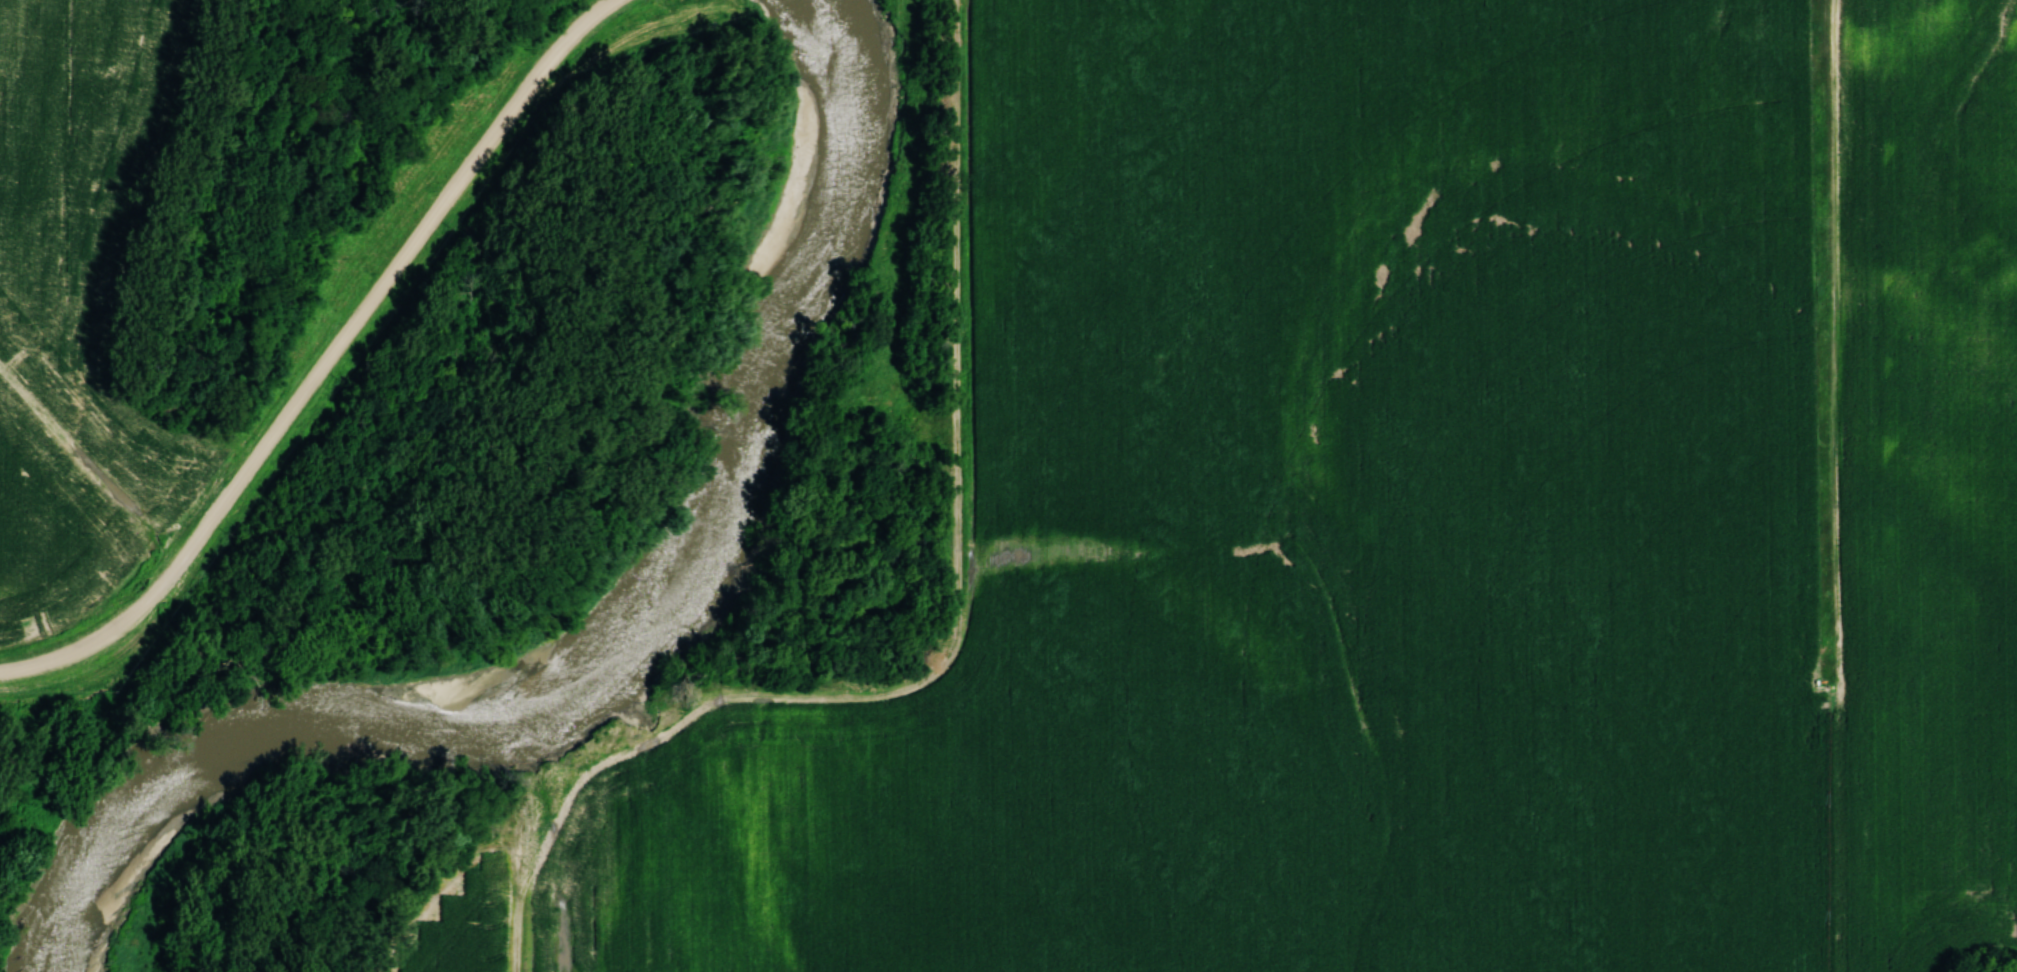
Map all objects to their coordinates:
road: (329, 365)
river: (617, 622)
road: (952, 650)

